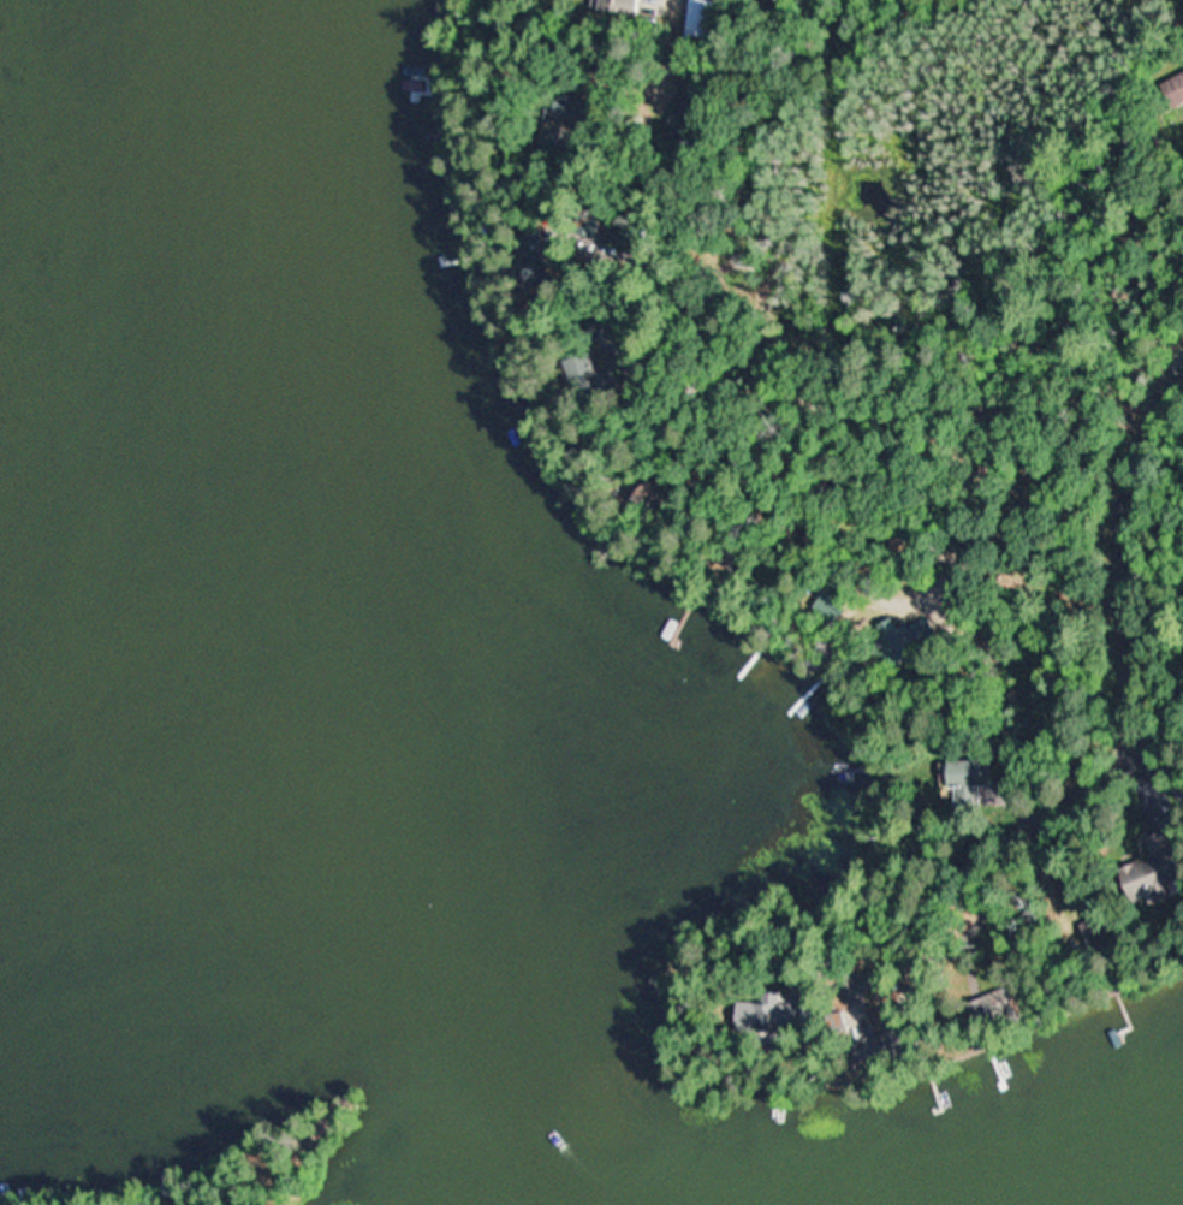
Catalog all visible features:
building: (608, 2)
building: (697, 19)
building: (1172, 90)
road: (1119, 557)
building: (887, 637)
building: (970, 774)
building: (988, 801)
building: (1148, 875)
building: (767, 1017)

